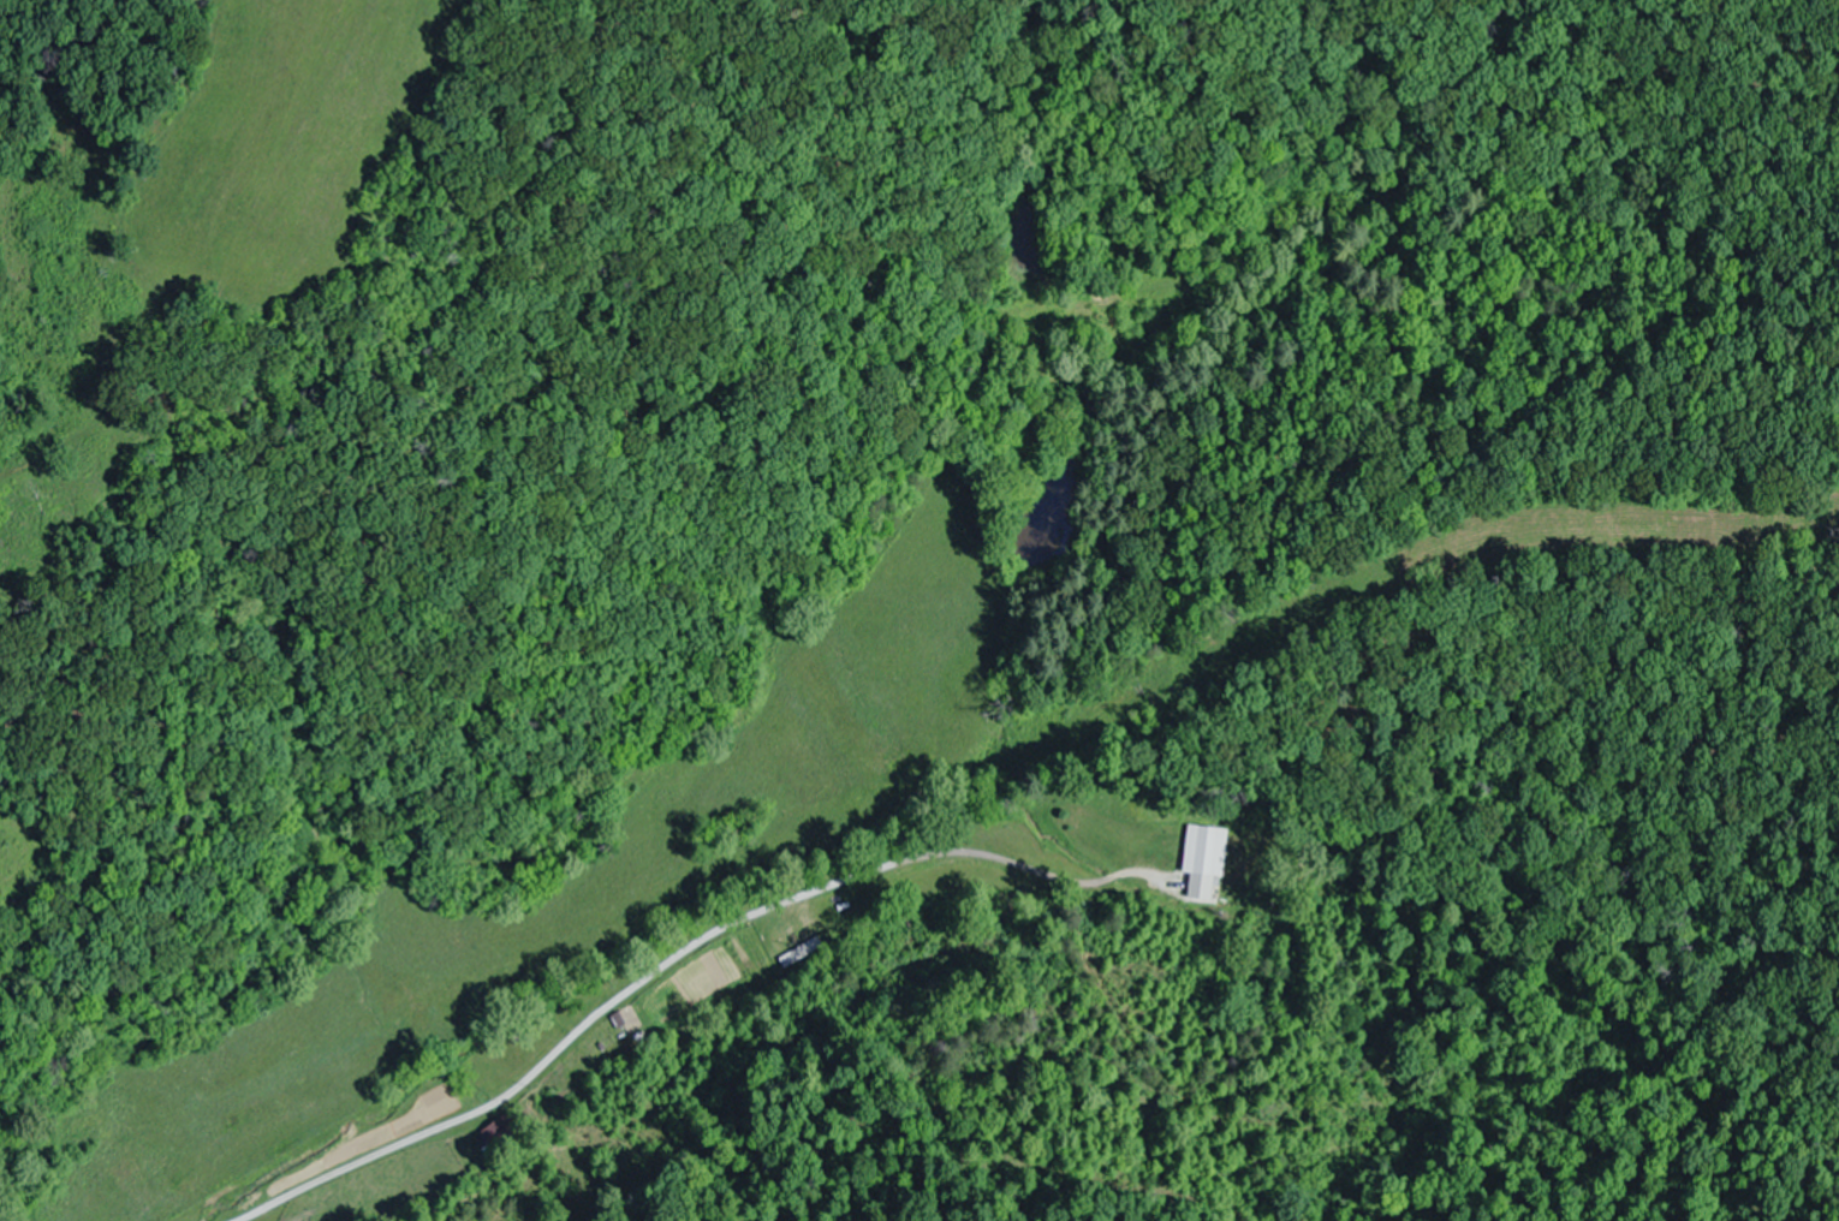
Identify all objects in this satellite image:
building: (1202, 858)
building: (498, 1132)

